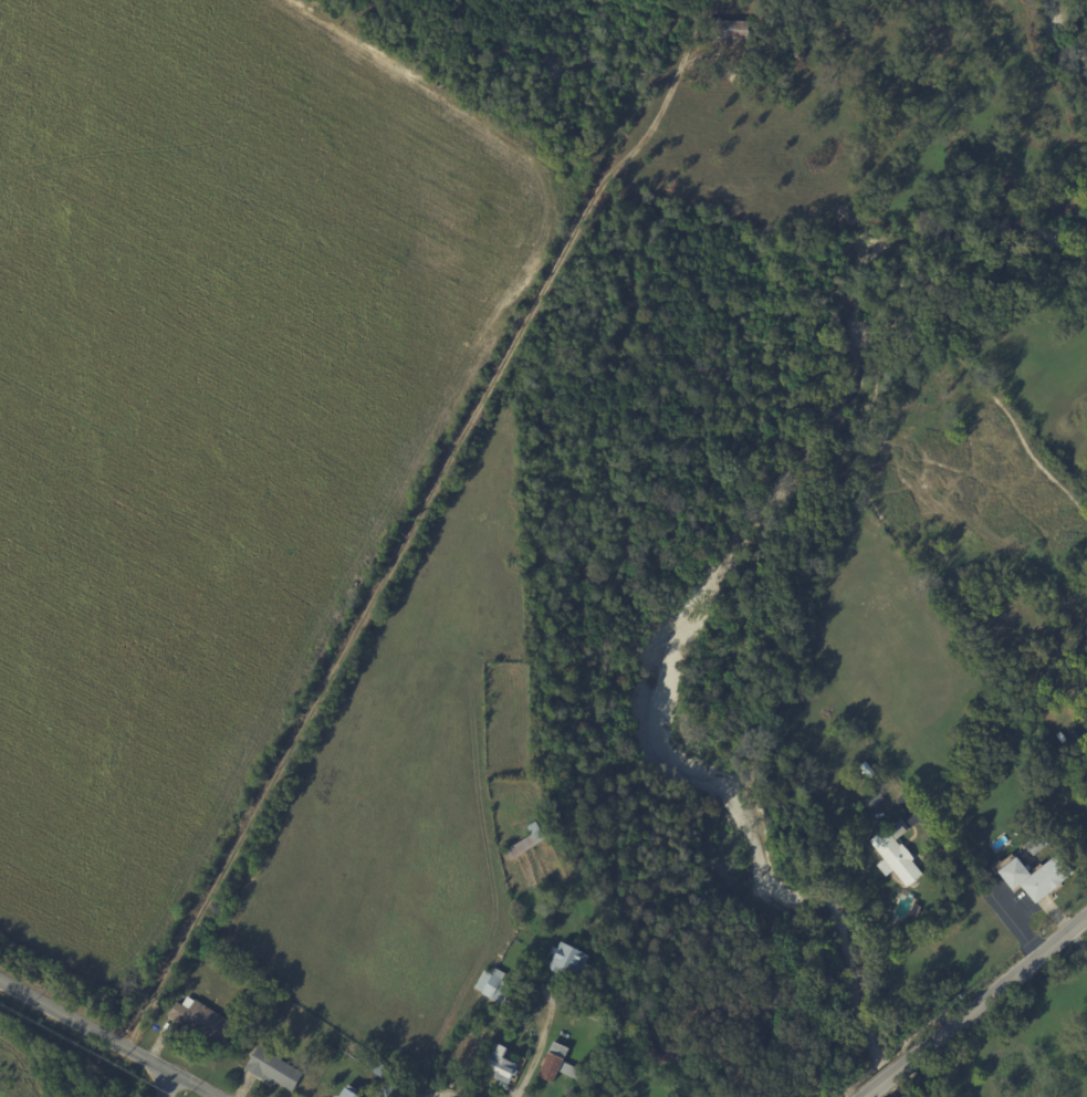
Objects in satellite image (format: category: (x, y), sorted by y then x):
building: (728, 29)
building: (743, 55)
crop: (206, 403)
building: (1060, 767)
building: (872, 800)
building: (859, 827)
building: (1025, 832)
building: (523, 844)
building: (1035, 844)
building: (893, 855)
building: (863, 857)
building: (1013, 873)
building: (871, 876)
road: (971, 877)
building: (1045, 879)
road: (1047, 902)
road: (1013, 910)
road: (1077, 938)
building: (566, 962)
road: (1001, 985)
building: (492, 986)
building: (269, 1015)
building: (199, 1022)
road: (108, 1036)
road: (541, 1047)
building: (497, 1066)
building: (375, 1068)
building: (562, 1068)
building: (272, 1070)
road: (887, 1076)
building: (1086, 1077)
road: (169, 1084)
building: (391, 1090)
building: (344, 1094)

